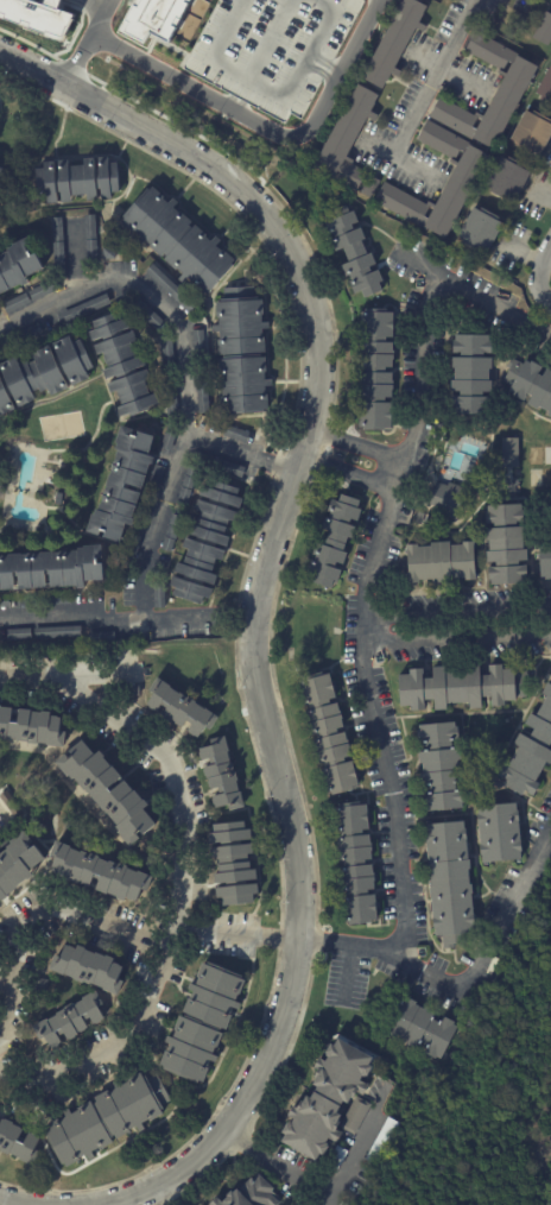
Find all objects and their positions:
building: (52, 2)
parking garage: (52, 2)
road: (87, 5)
building: (38, 17)
building: (152, 17)
building: (543, 30)
road: (72, 38)
building: (393, 42)
road: (28, 44)
building: (272, 49)
parking garage: (272, 49)
road: (81, 56)
road: (94, 78)
road: (437, 83)
building: (545, 86)
building: (513, 87)
road: (251, 120)
building: (531, 133)
road: (201, 137)
building: (348, 139)
building: (1, 171)
building: (465, 174)
building: (507, 178)
building: (76, 181)
building: (369, 187)
building: (479, 229)
building: (89, 238)
building: (176, 239)
building: (56, 247)
building: (353, 252)
building: (108, 253)
road: (76, 255)
building: (17, 264)
road: (545, 269)
building: (170, 288)
building: (42, 290)
road: (473, 291)
road: (544, 295)
building: (15, 302)
building: (83, 308)
building: (145, 313)
building: (21, 335)
building: (197, 348)
building: (239, 353)
building: (166, 354)
building: (120, 364)
building: (375, 371)
building: (42, 372)
road: (185, 372)
building: (468, 374)
building: (528, 383)
building: (202, 393)
building: (173, 400)
park: (61, 425)
building: (235, 434)
building: (169, 436)
road: (351, 444)
road: (243, 450)
building: (508, 452)
park: (539, 465)
building: (232, 468)
building: (157, 474)
road: (342, 475)
building: (121, 484)
building: (186, 484)
building: (445, 498)
building: (56, 499)
building: (419, 517)
building: (141, 519)
building: (171, 531)
building: (332, 540)
building: (204, 542)
building: (505, 543)
building: (129, 553)
building: (0, 555)
building: (544, 556)
building: (439, 561)
building: (52, 568)
road: (256, 591)
building: (158, 594)
building: (56, 598)
building: (2, 600)
road: (361, 610)
road: (456, 610)
road: (127, 618)
building: (57, 631)
building: (17, 633)
road: (457, 636)
building: (100, 637)
building: (129, 657)
building: (460, 687)
building: (182, 709)
building: (32, 728)
building: (327, 732)
building: (530, 750)
building: (439, 765)
building: (223, 776)
building: (110, 793)
building: (9, 806)
building: (498, 832)
building: (18, 865)
building: (355, 865)
building: (236, 866)
building: (101, 876)
road: (190, 879)
building: (449, 882)
road: (53, 904)
road: (412, 967)
building: (91, 972)
road: (348, 974)
building: (74, 1022)
building: (204, 1026)
building: (418, 1027)
building: (331, 1103)
building: (108, 1119)
building: (18, 1142)
road: (245, 1142)
building: (385, 1144)
road: (355, 1155)
building: (338, 1161)
road: (293, 1178)
building: (254, 1194)
road: (7, 1203)
building: (346, 1204)

